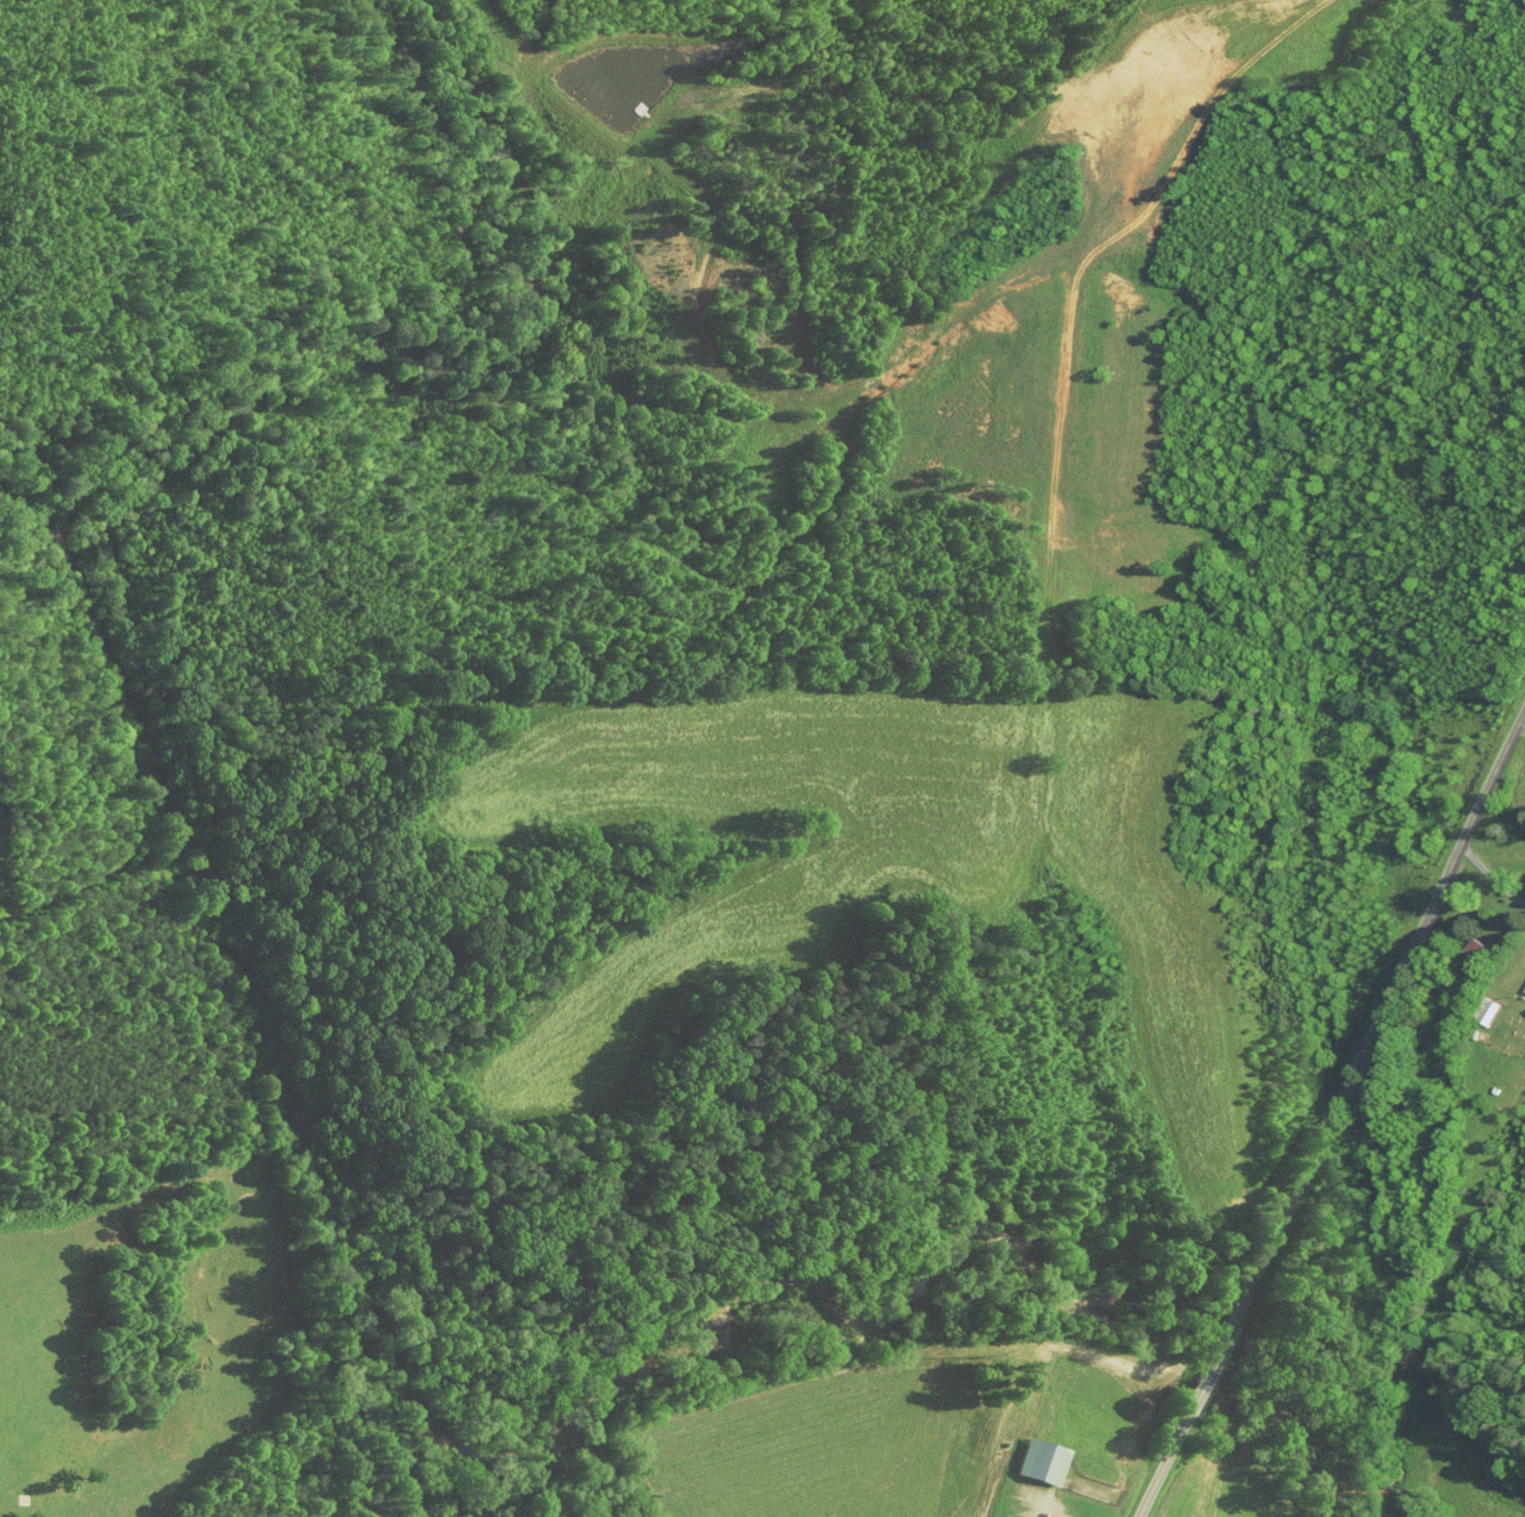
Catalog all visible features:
road: (1524, 713)
road: (1491, 874)
building: (1521, 977)
road: (1332, 1112)
building: (1034, 1455)
road: (1047, 1508)

